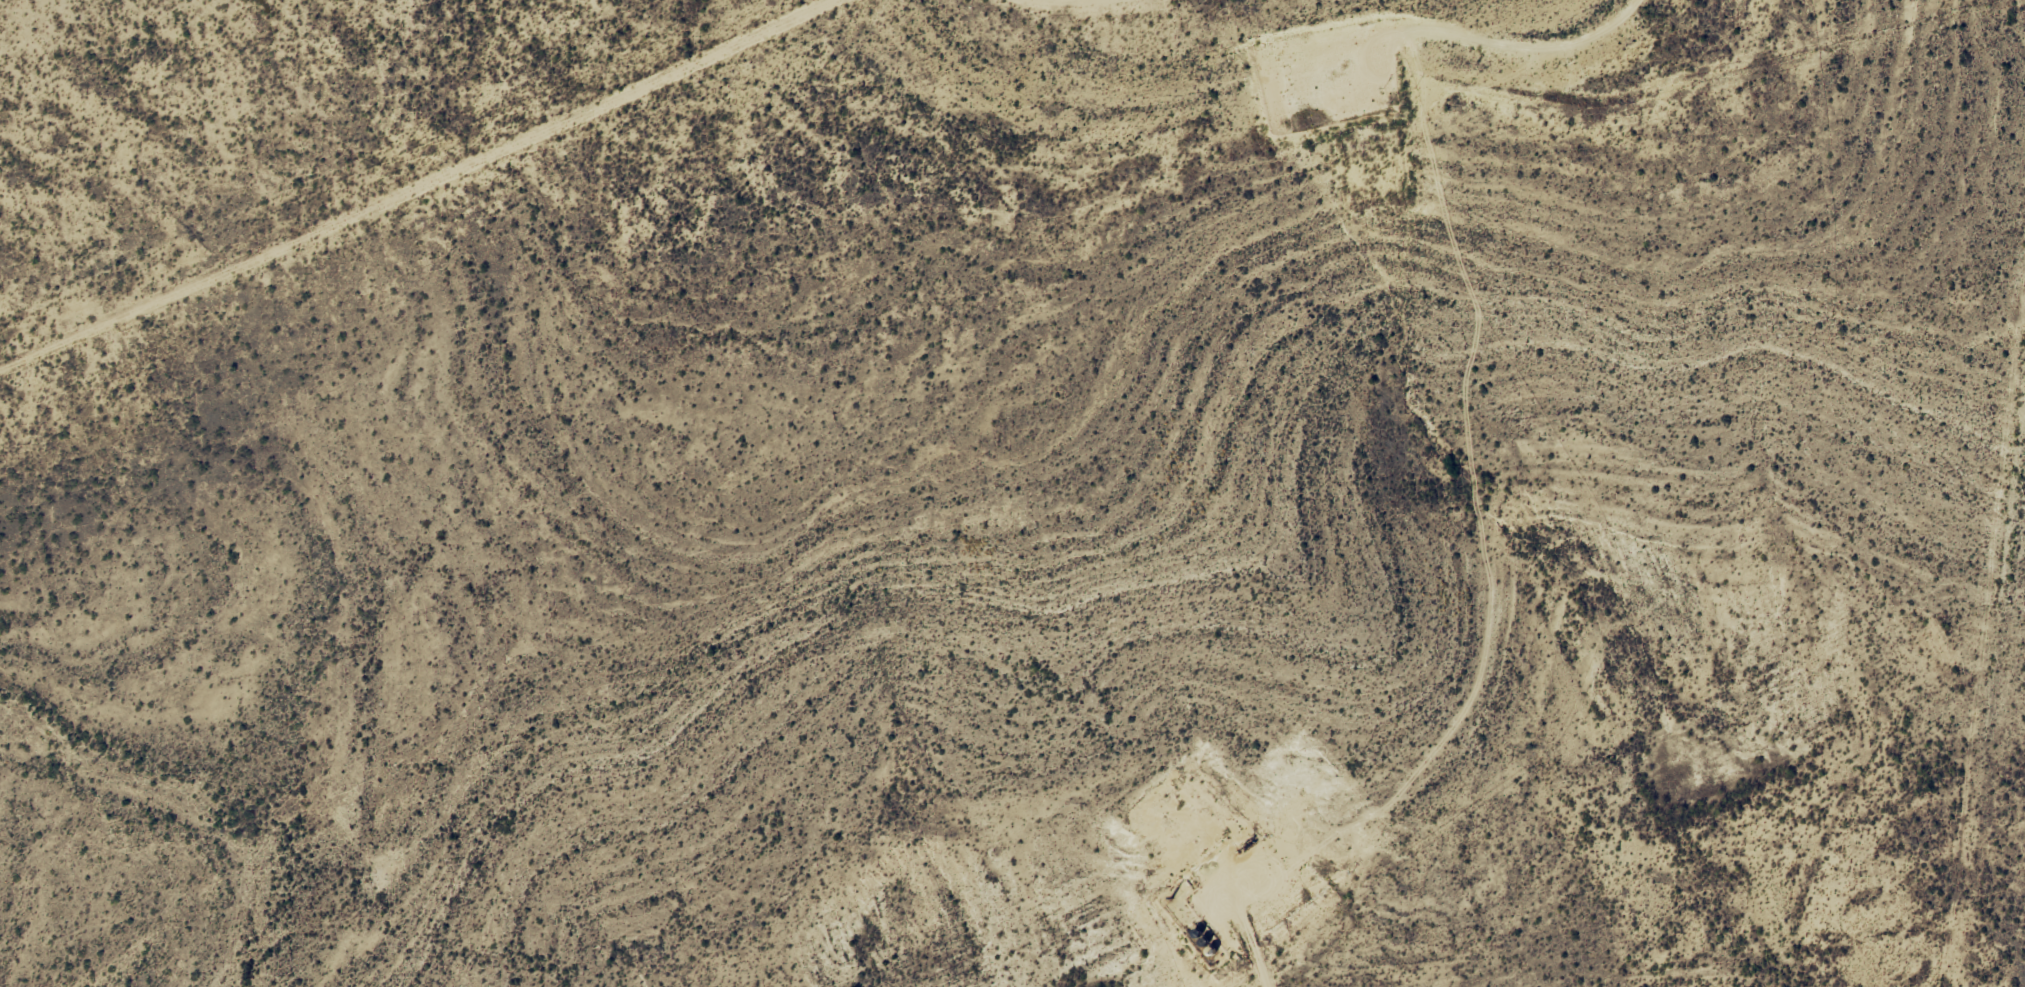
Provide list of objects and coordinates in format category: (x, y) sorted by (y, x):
building: (1166, 851)
building: (1305, 899)

